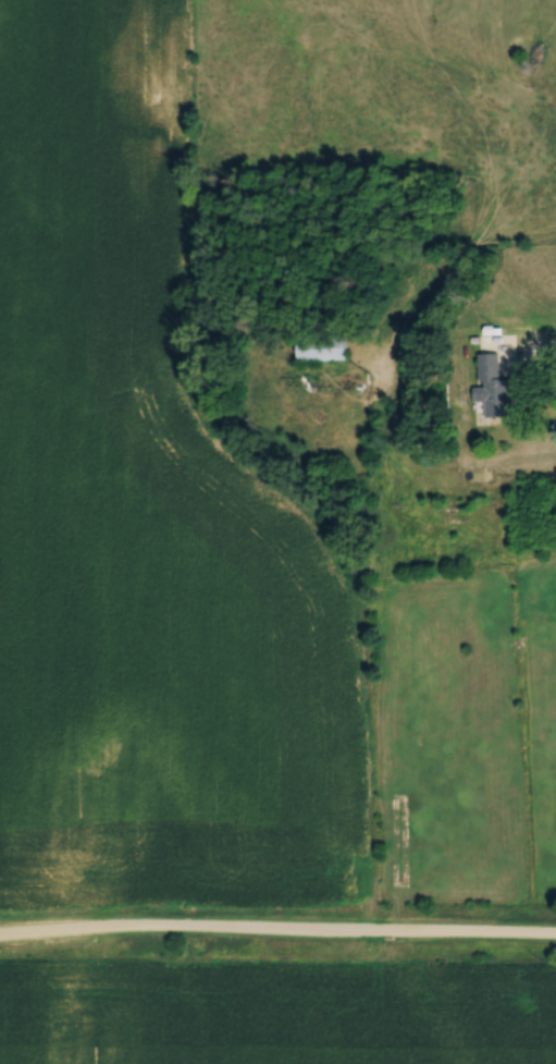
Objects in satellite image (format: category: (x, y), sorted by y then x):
road: (533, 342)
building: (324, 343)
building: (494, 383)
road: (366, 655)
building: (398, 799)
road: (277, 928)

